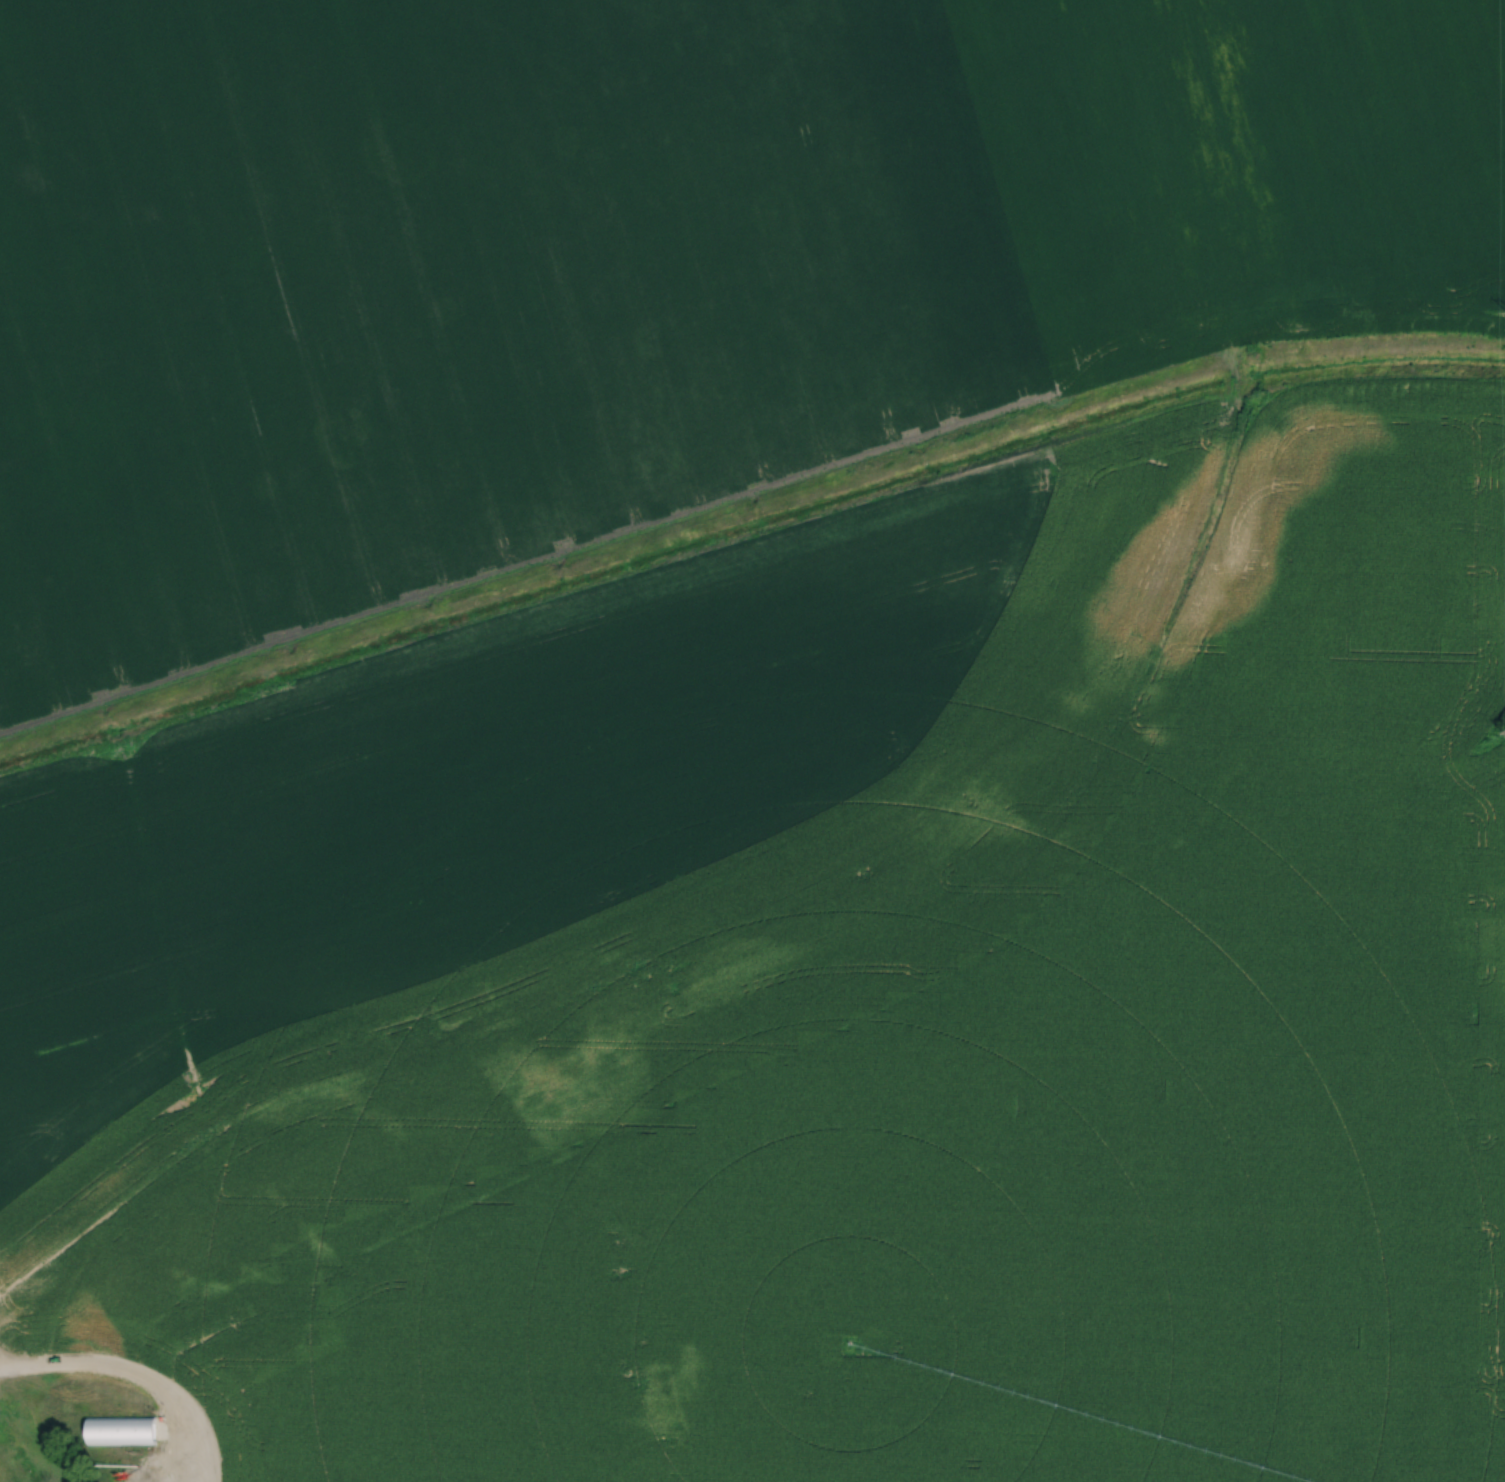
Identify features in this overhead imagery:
road: (132, 1378)
building: (122, 1430)

